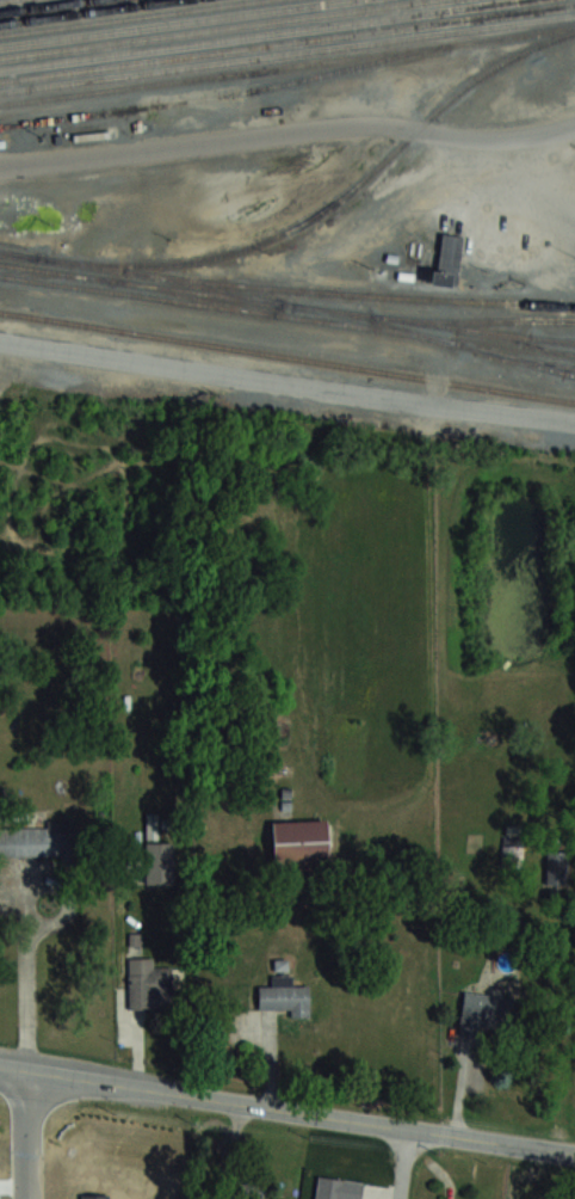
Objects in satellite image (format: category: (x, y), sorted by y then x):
railway: (42, 5)
railway: (91, 12)
railway: (130, 17)
railway: (169, 23)
railway: (217, 29)
railway: (258, 35)
railway: (287, 42)
railway: (287, 53)
railway: (286, 64)
railway: (217, 94)
road: (287, 131)
railway: (313, 215)
railway: (2, 252)
building: (389, 258)
building: (445, 258)
railway: (43, 273)
building: (402, 276)
railway: (173, 279)
railway: (360, 294)
railway: (187, 296)
railway: (287, 303)
railway: (289, 316)
railway: (480, 320)
railway: (193, 321)
railway: (377, 322)
railway: (521, 336)
railway: (558, 339)
railway: (287, 351)
railway: (531, 359)
road: (286, 380)
building: (24, 841)
building: (301, 842)
building: (160, 862)
road: (27, 982)
building: (148, 985)
building: (284, 995)
building: (486, 1015)
road: (286, 1109)
road: (33, 1135)
road: (403, 1163)
building: (338, 1188)
building: (245, 1191)

